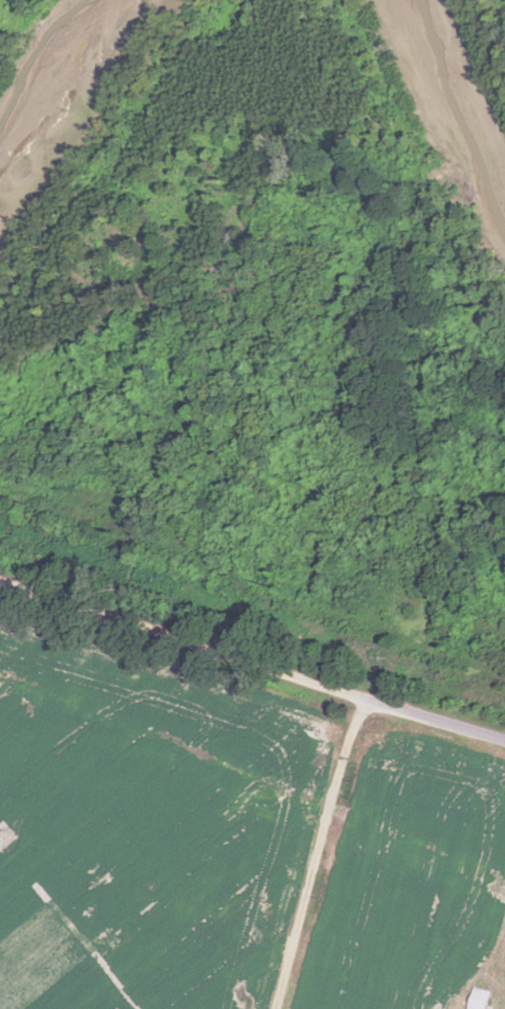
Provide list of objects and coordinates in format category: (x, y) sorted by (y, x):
river: (57, 96)
river: (458, 106)
road: (252, 663)
road: (331, 854)
building: (480, 998)

